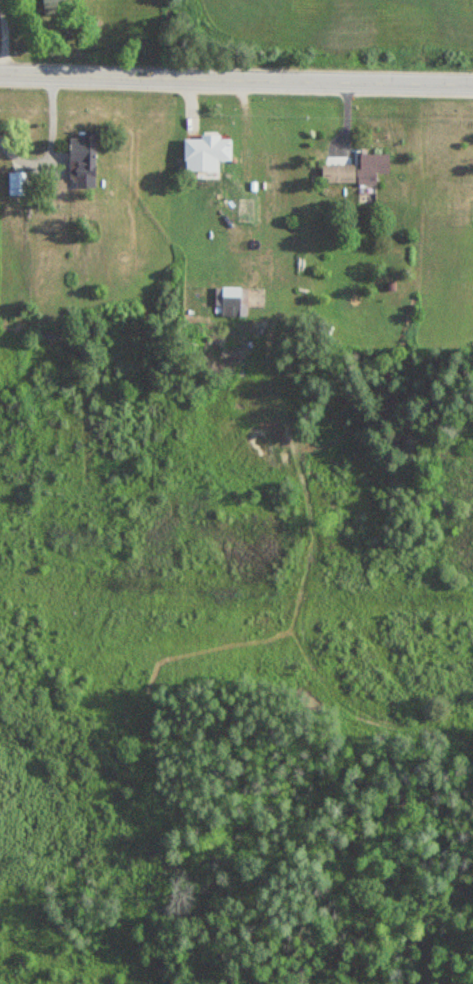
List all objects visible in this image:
building: (50, 3)
road: (236, 78)
building: (210, 149)
building: (82, 160)
building: (356, 169)
building: (17, 184)
building: (230, 301)

